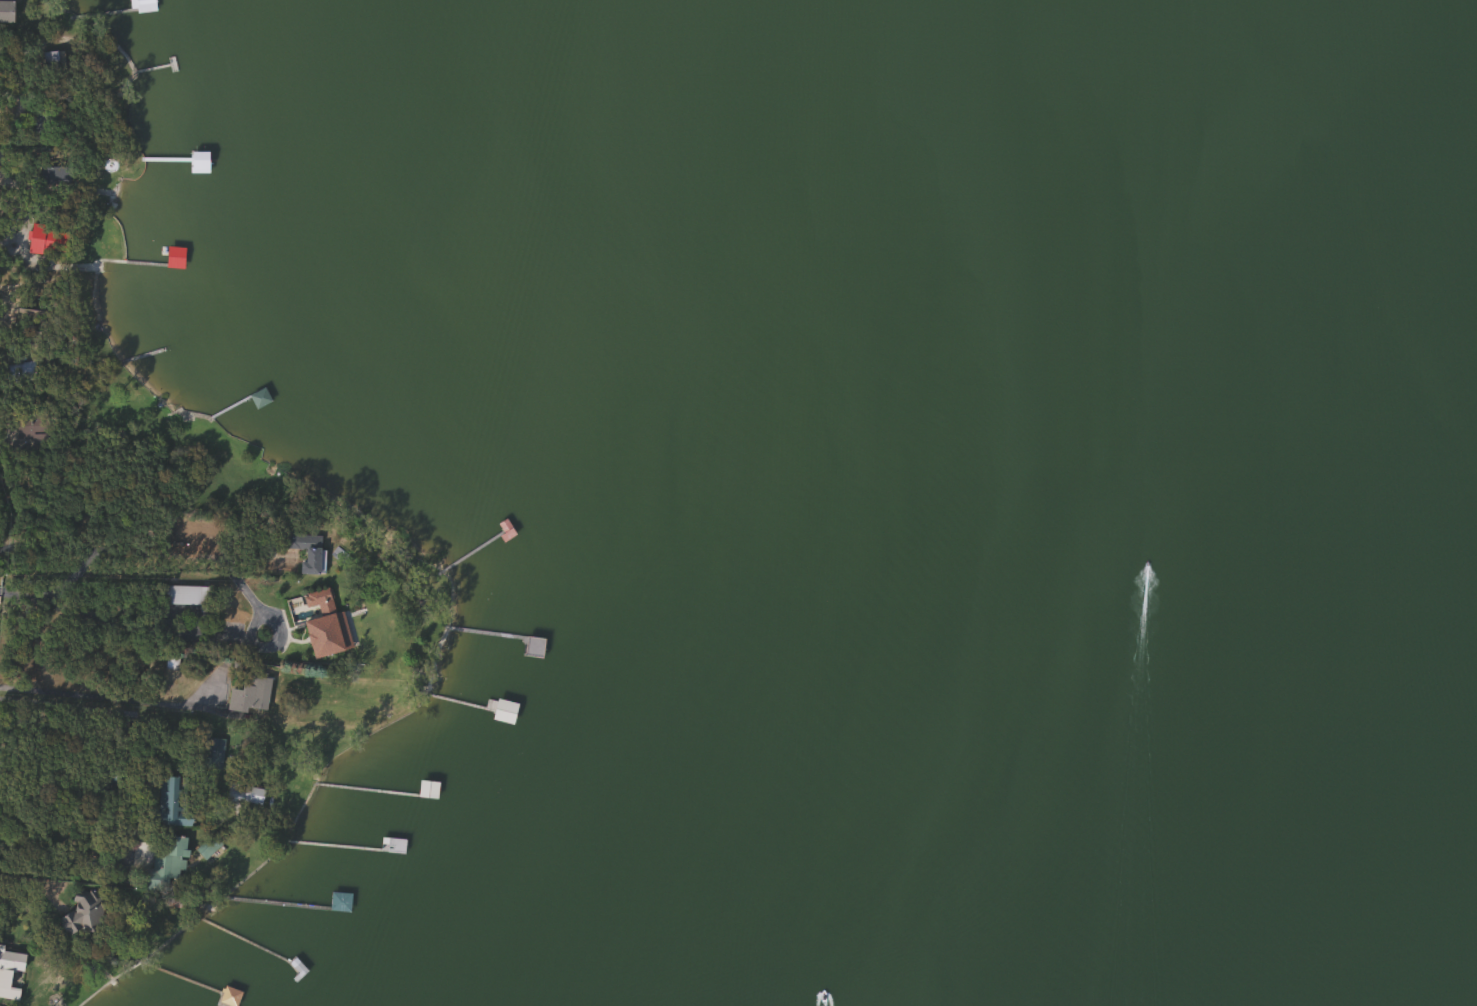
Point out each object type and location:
building: (5, 11)
road: (16, 53)
building: (51, 63)
road: (10, 94)
river: (1410, 146)
building: (0, 158)
building: (54, 177)
building: (47, 239)
building: (174, 256)
building: (21, 370)
building: (305, 549)
building: (185, 595)
road: (254, 609)
building: (324, 625)
building: (249, 695)
road: (105, 697)
road: (62, 705)
building: (427, 789)
building: (242, 795)
building: (171, 800)
building: (164, 862)
building: (338, 901)
building: (84, 912)
building: (9, 963)

